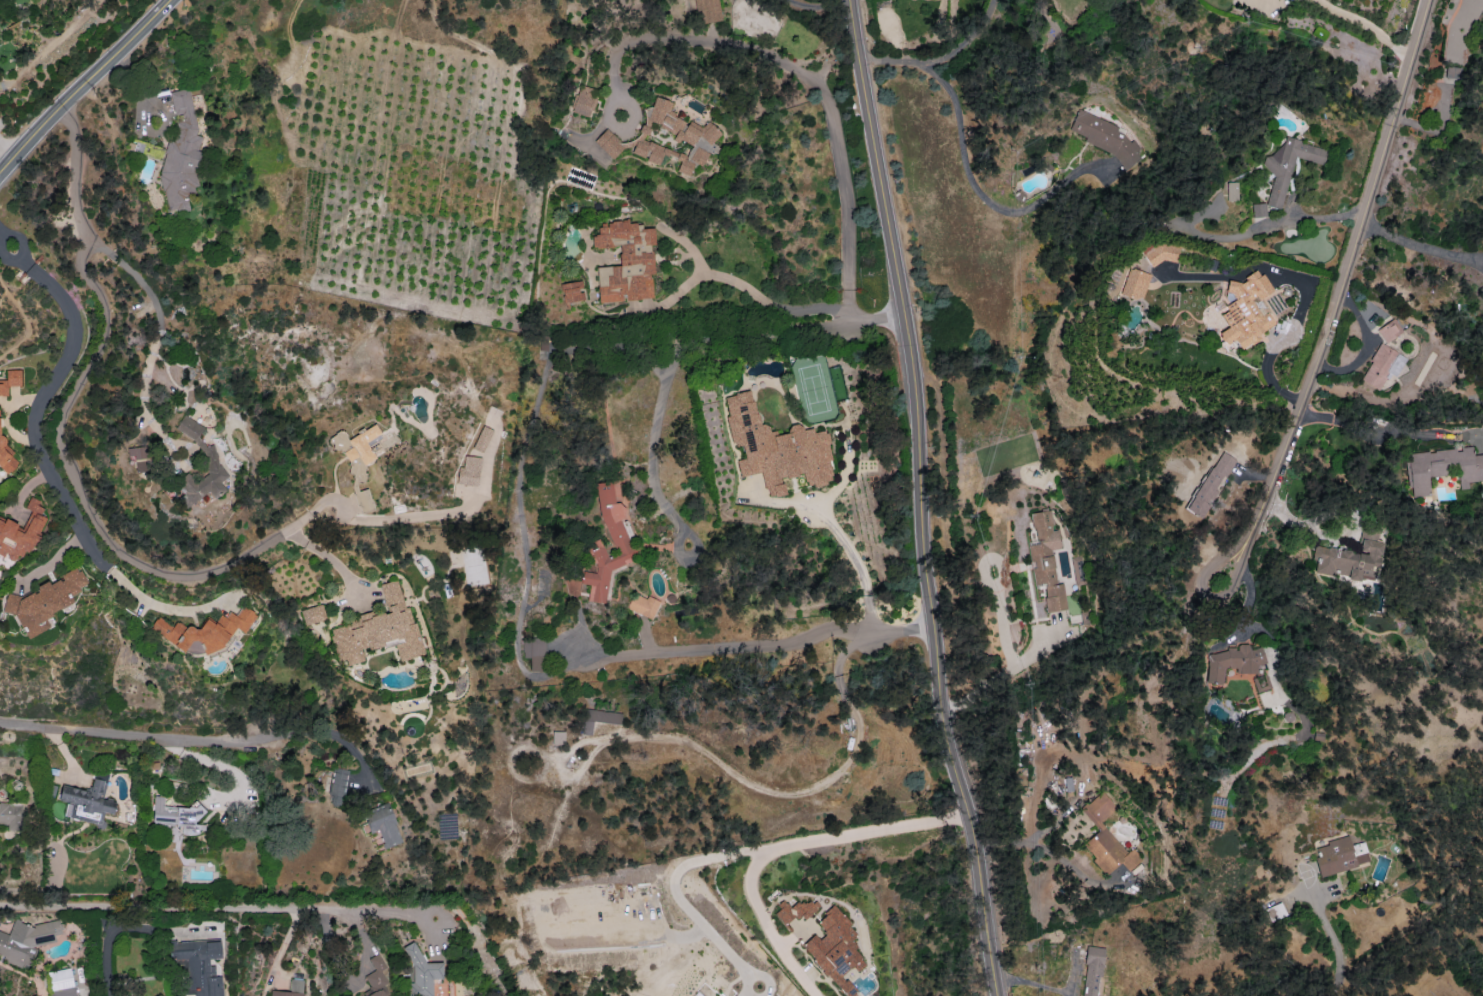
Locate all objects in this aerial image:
road: (1080, 0)
road: (165, 7)
road: (818, 8)
building: (707, 10)
road: (1368, 26)
road: (939, 57)
building: (1451, 72)
road: (805, 76)
road: (78, 93)
building: (583, 100)
building: (1104, 136)
building: (665, 138)
park: (14, 151)
building: (181, 155)
road: (3, 157)
building: (1287, 166)
road: (976, 191)
building: (1231, 191)
building: (1258, 210)
road: (1314, 217)
road: (1420, 246)
road: (14, 250)
building: (1161, 252)
building: (625, 261)
building: (1134, 283)
road: (5, 288)
building: (571, 291)
road: (1339, 301)
road: (773, 304)
building: (1247, 310)
road: (28, 329)
building: (1389, 330)
road: (155, 334)
road: (691, 342)
building: (1381, 366)
building: (10, 380)
park: (814, 390)
road: (35, 411)
building: (189, 427)
road: (1378, 433)
road: (58, 437)
building: (482, 438)
building: (356, 448)
building: (775, 449)
building: (5, 456)
building: (139, 457)
building: (1441, 468)
building: (468, 471)
building: (203, 480)
building: (1209, 485)
road: (923, 498)
building: (21, 532)
building: (1351, 556)
building: (1046, 560)
road: (856, 566)
road: (996, 590)
building: (44, 601)
road: (161, 605)
building: (642, 605)
building: (312, 614)
road: (1169, 620)
building: (378, 629)
building: (203, 631)
building: (534, 652)
road: (520, 656)
building: (1232, 662)
road: (1001, 671)
building: (1260, 683)
building: (598, 719)
road: (124, 730)
road: (320, 732)
road: (261, 738)
building: (337, 786)
road: (791, 791)
building: (87, 802)
building: (11, 815)
building: (176, 815)
building: (382, 824)
building: (1105, 837)
road: (1032, 838)
road: (743, 852)
building: (1340, 855)
road: (1071, 867)
road: (208, 904)
building: (794, 911)
road: (767, 927)
road: (1411, 931)
road: (1330, 937)
building: (26, 940)
road: (106, 942)
building: (834, 949)
building: (421, 971)
building: (1092, 971)
building: (376, 976)
building: (61, 982)
building: (290, 988)
road: (1335, 993)

